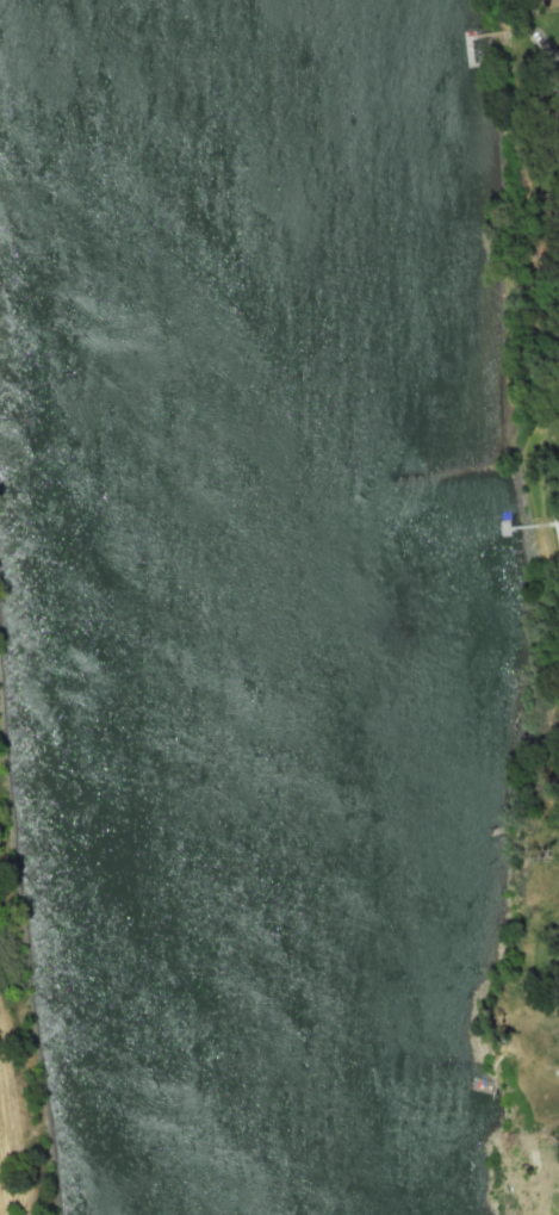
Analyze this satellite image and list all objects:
river: (278, 606)

